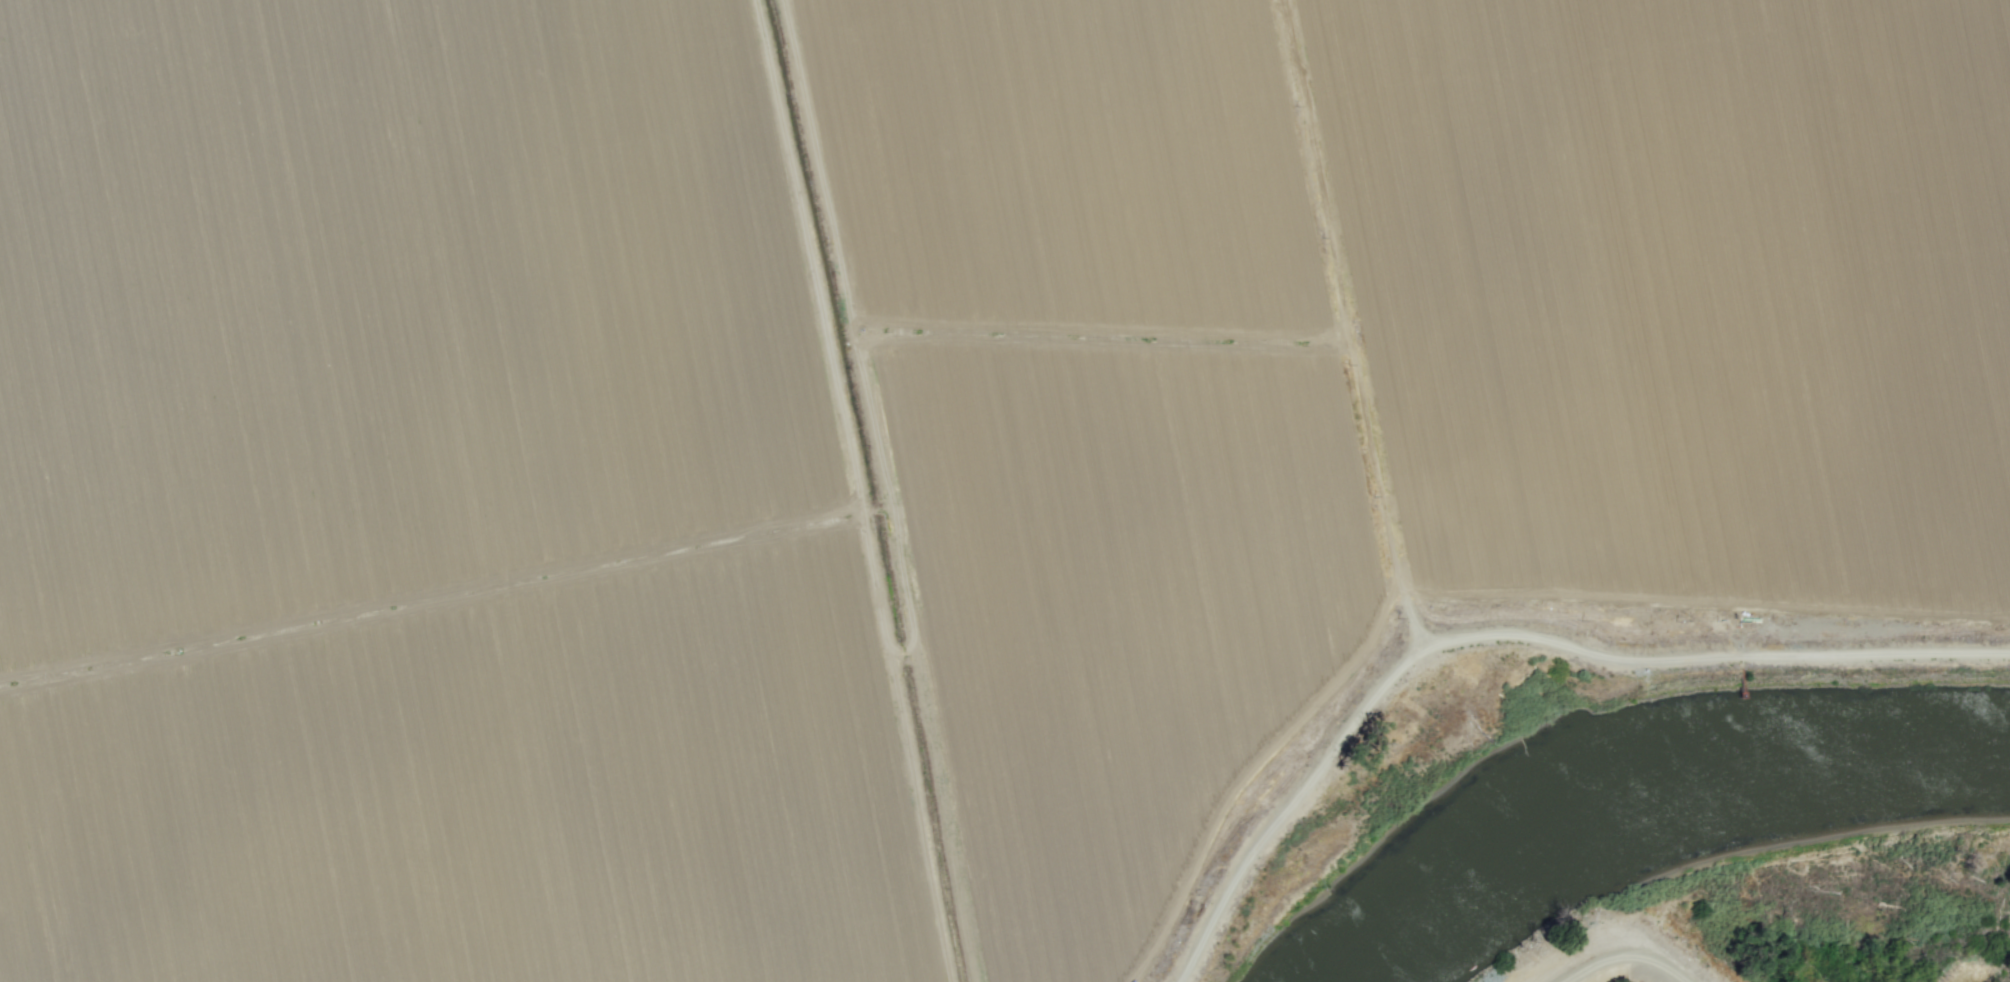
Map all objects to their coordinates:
road: (1500, 665)
river: (1642, 786)
road: (1633, 964)

